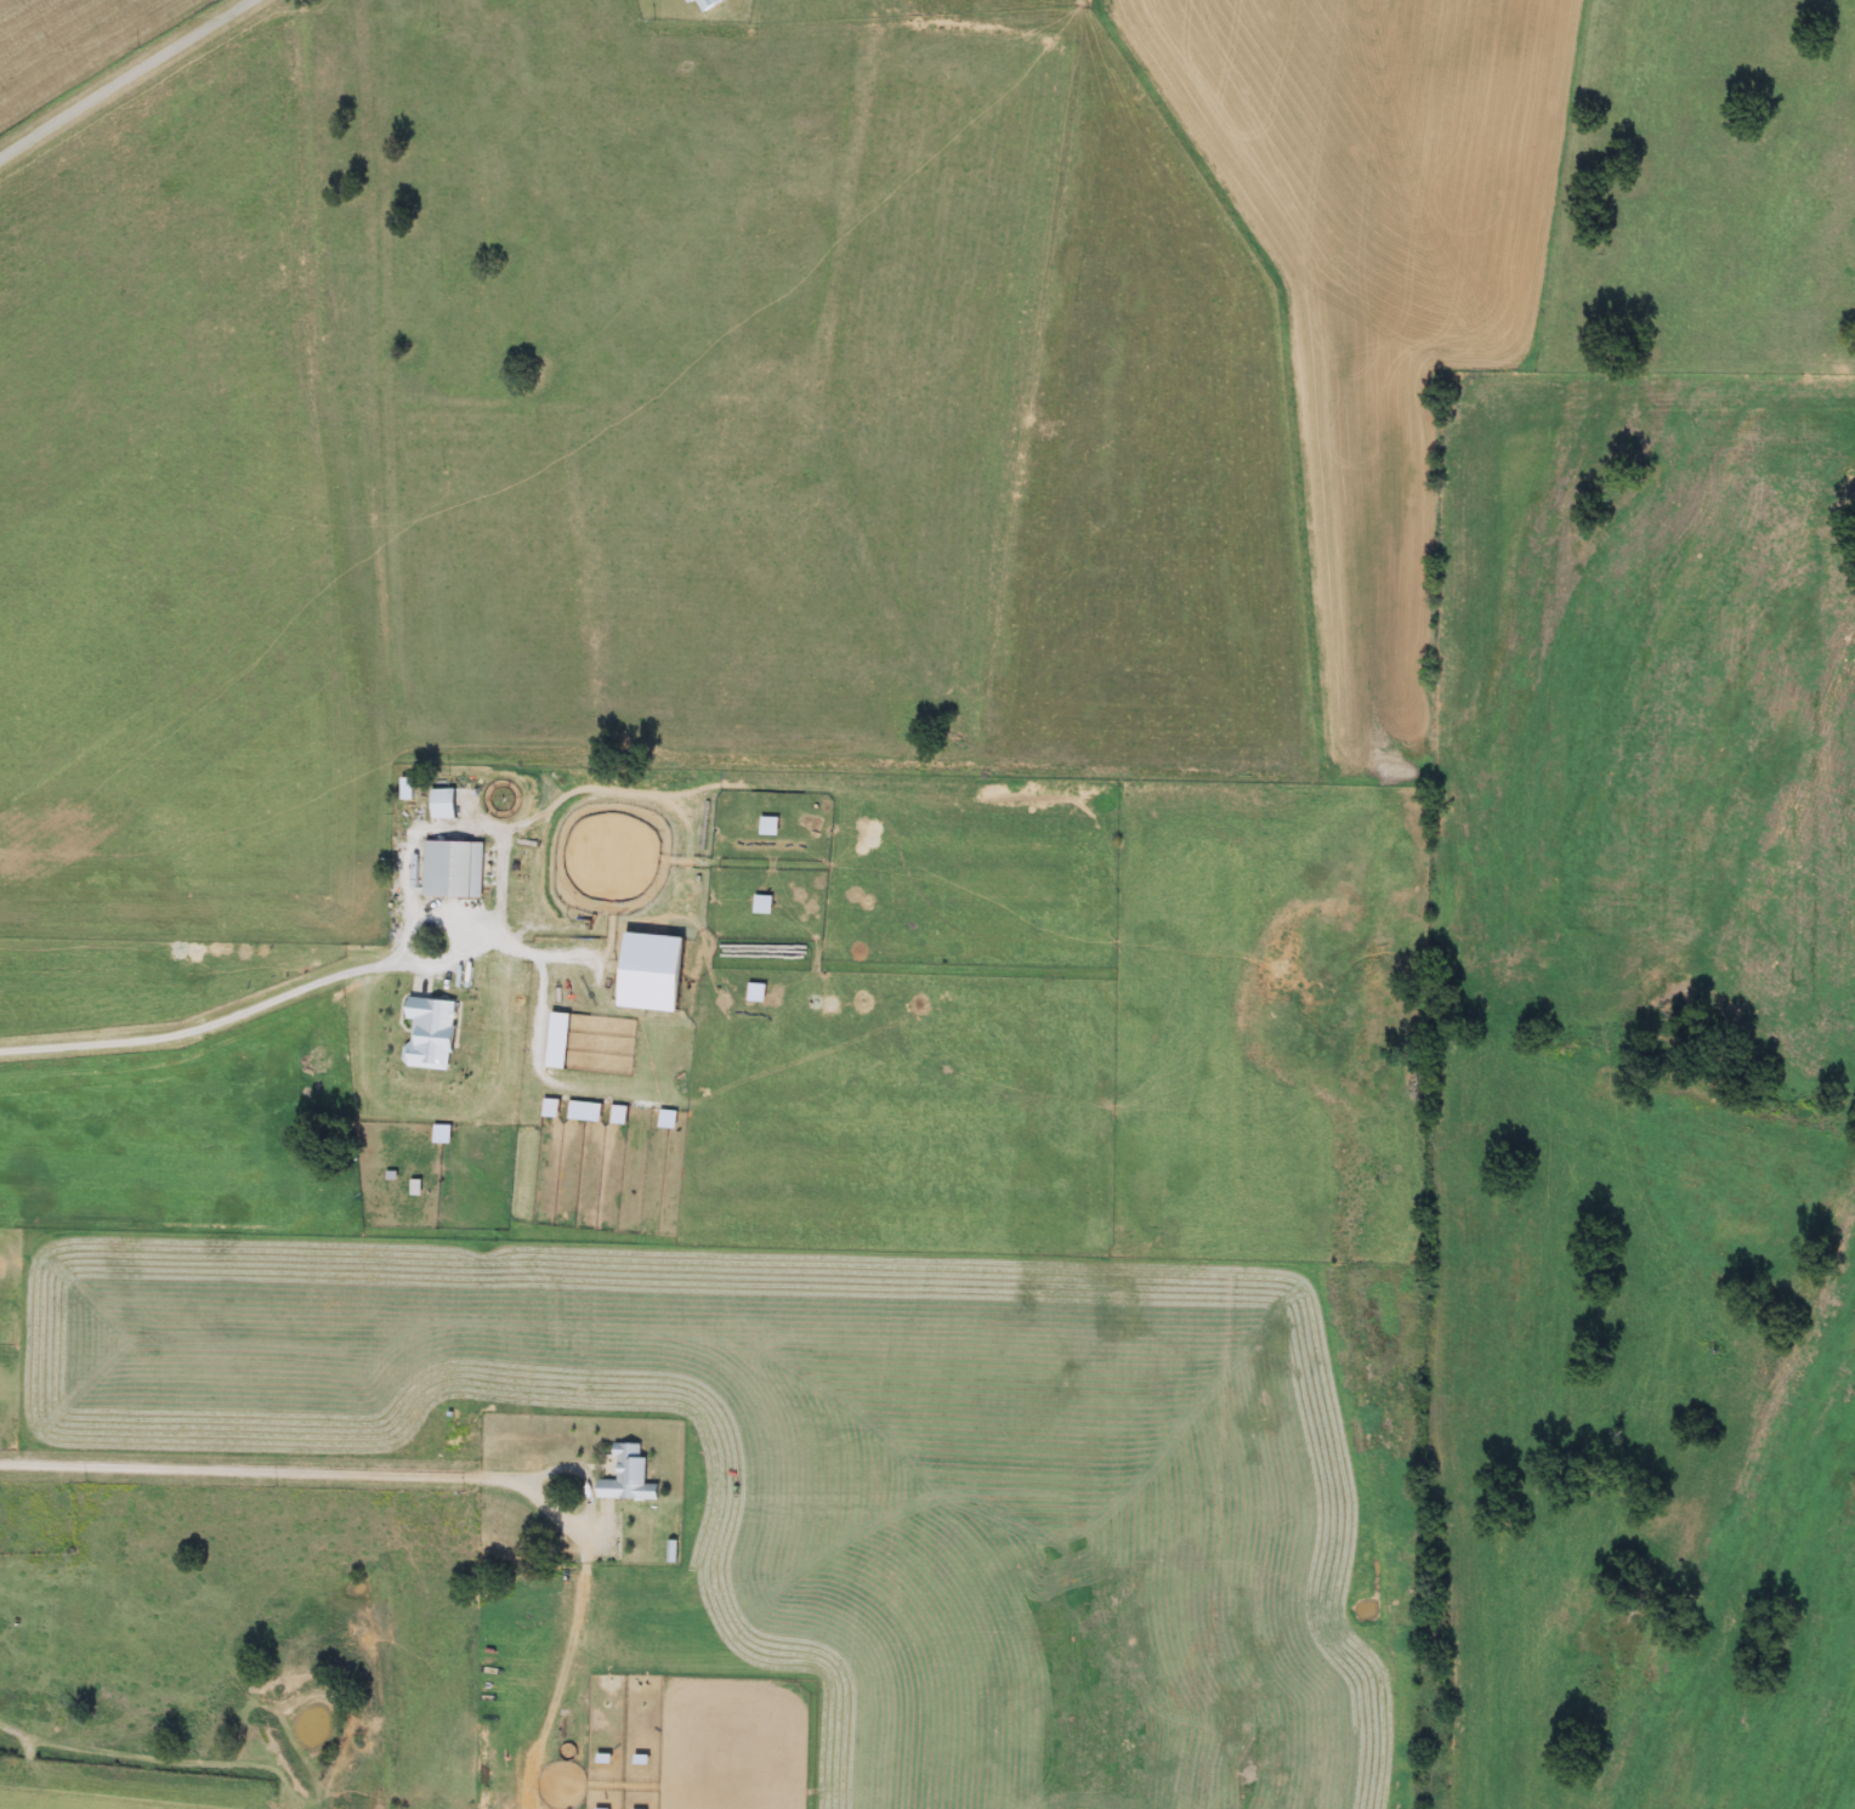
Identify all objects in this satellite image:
road: (127, 81)
building: (452, 869)
road: (334, 977)
building: (435, 1034)
road: (318, 1473)
building: (631, 1478)

